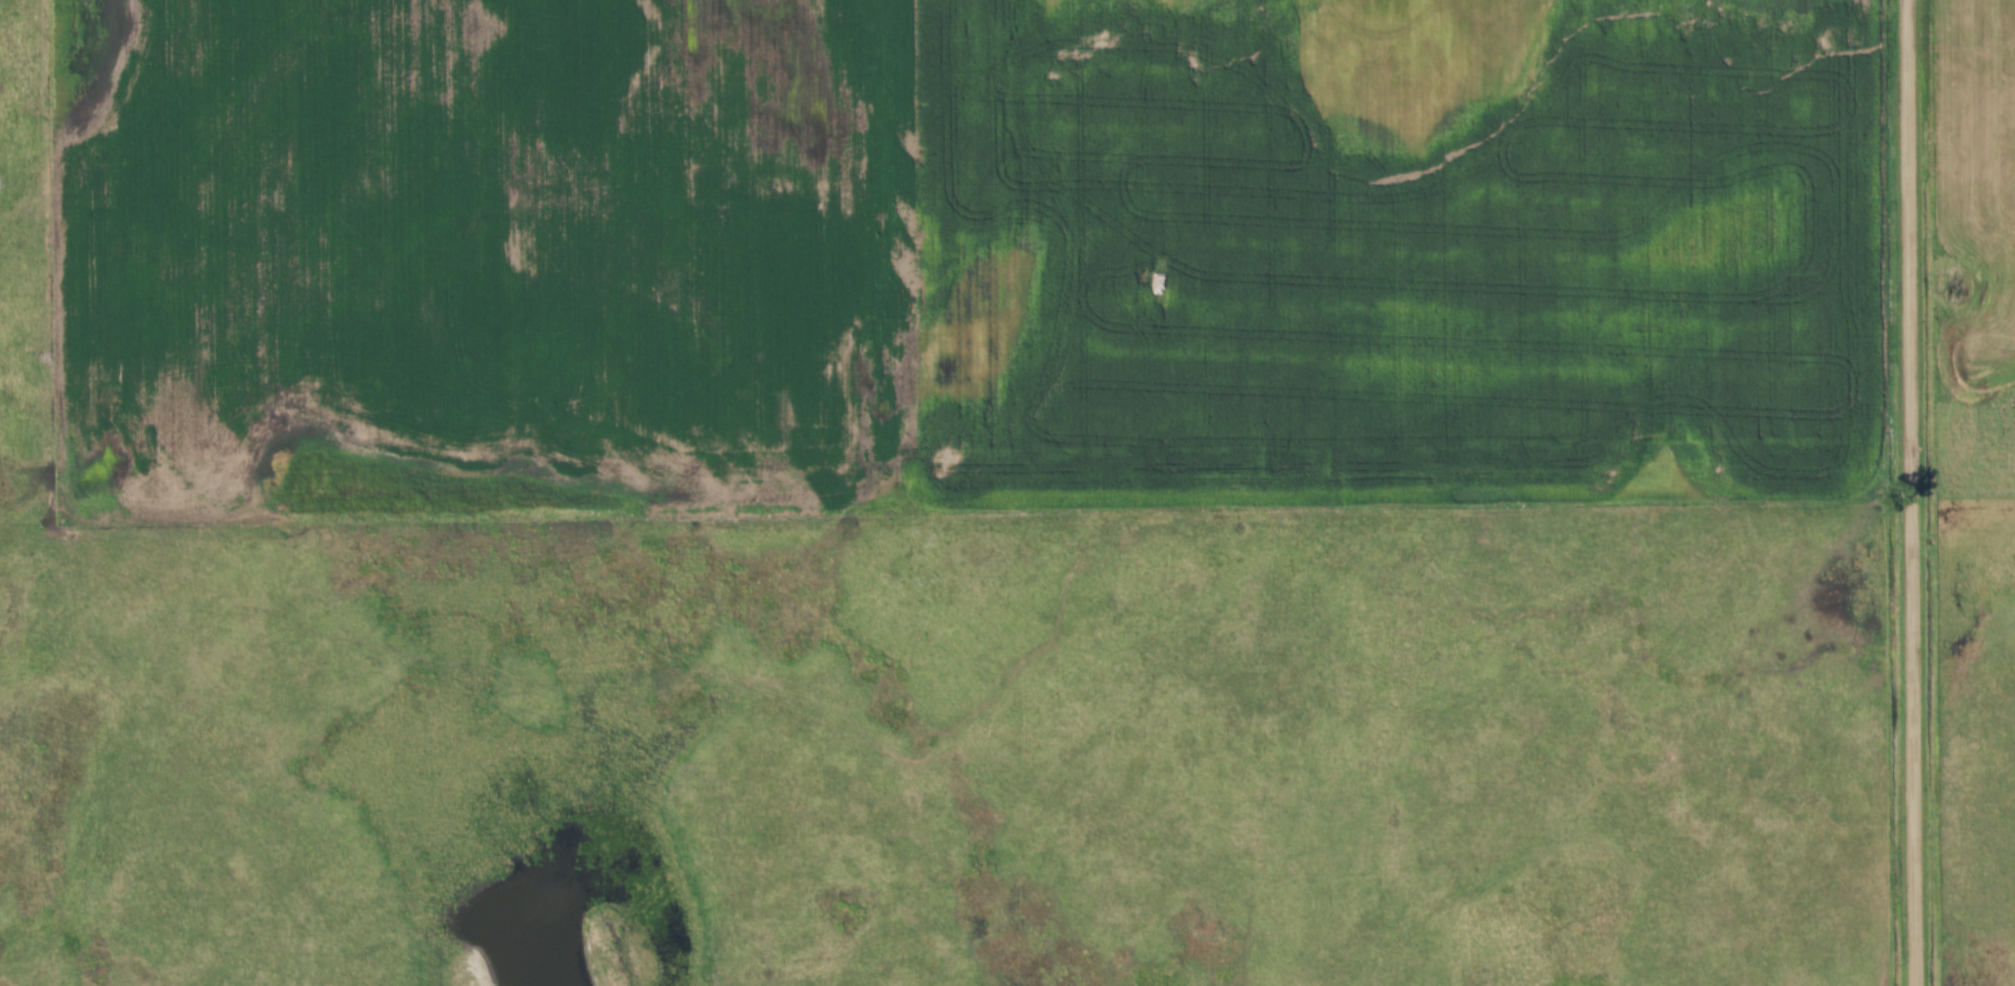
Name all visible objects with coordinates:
road: (1914, 493)

